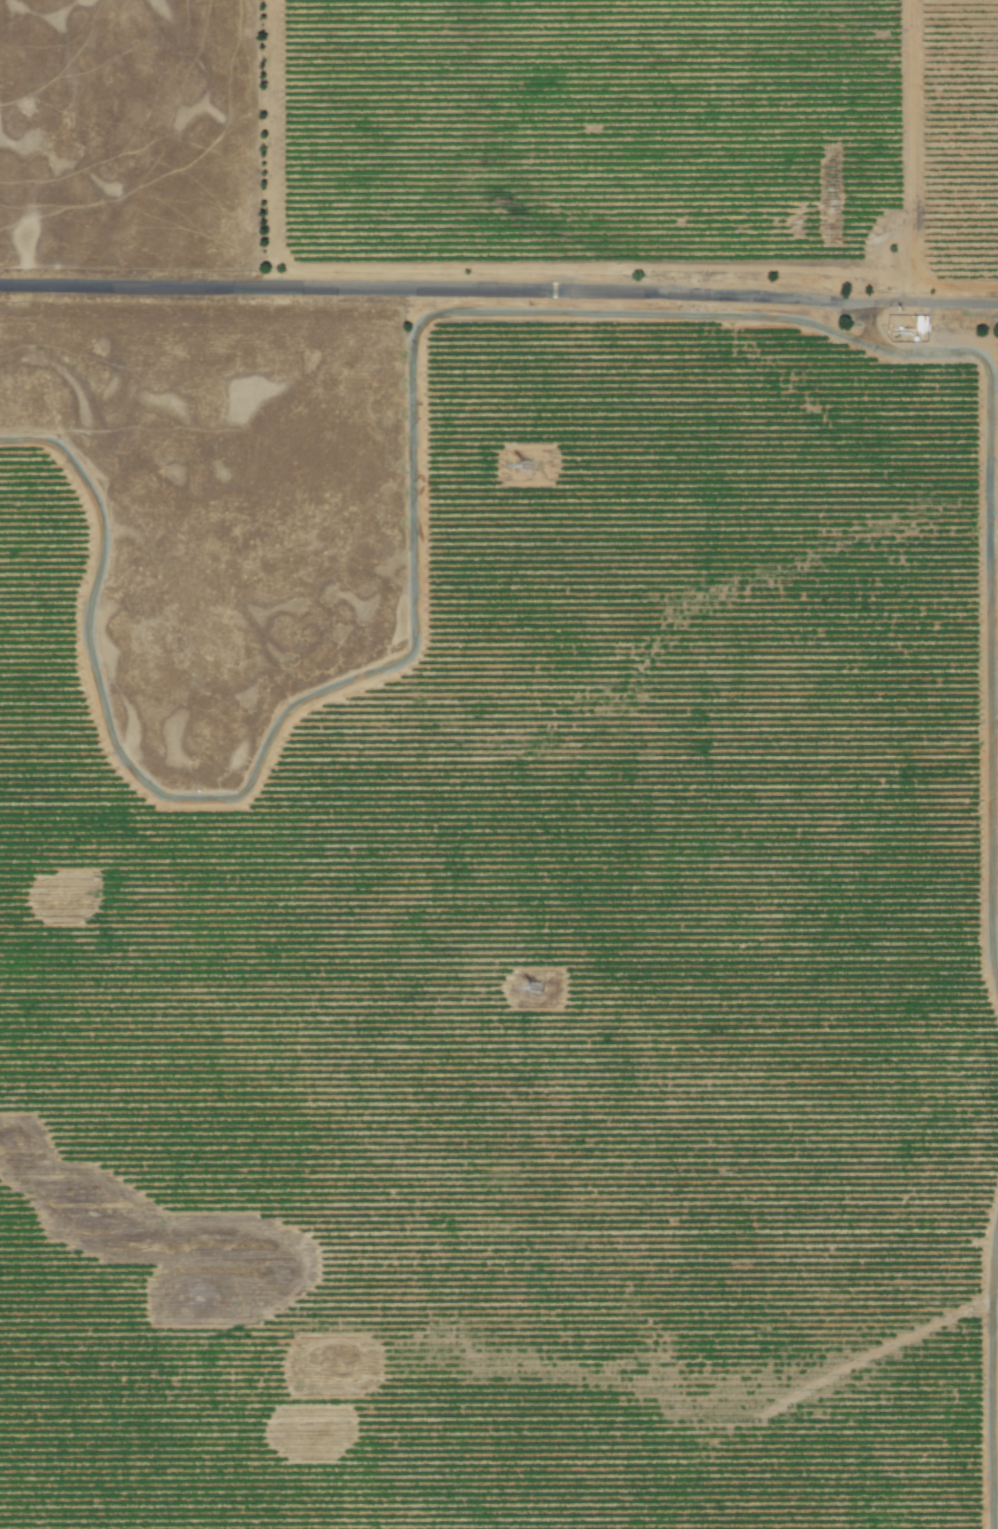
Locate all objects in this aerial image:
road: (499, 289)
power tower: (532, 467)
crop: (680, 705)
power tower: (540, 987)

